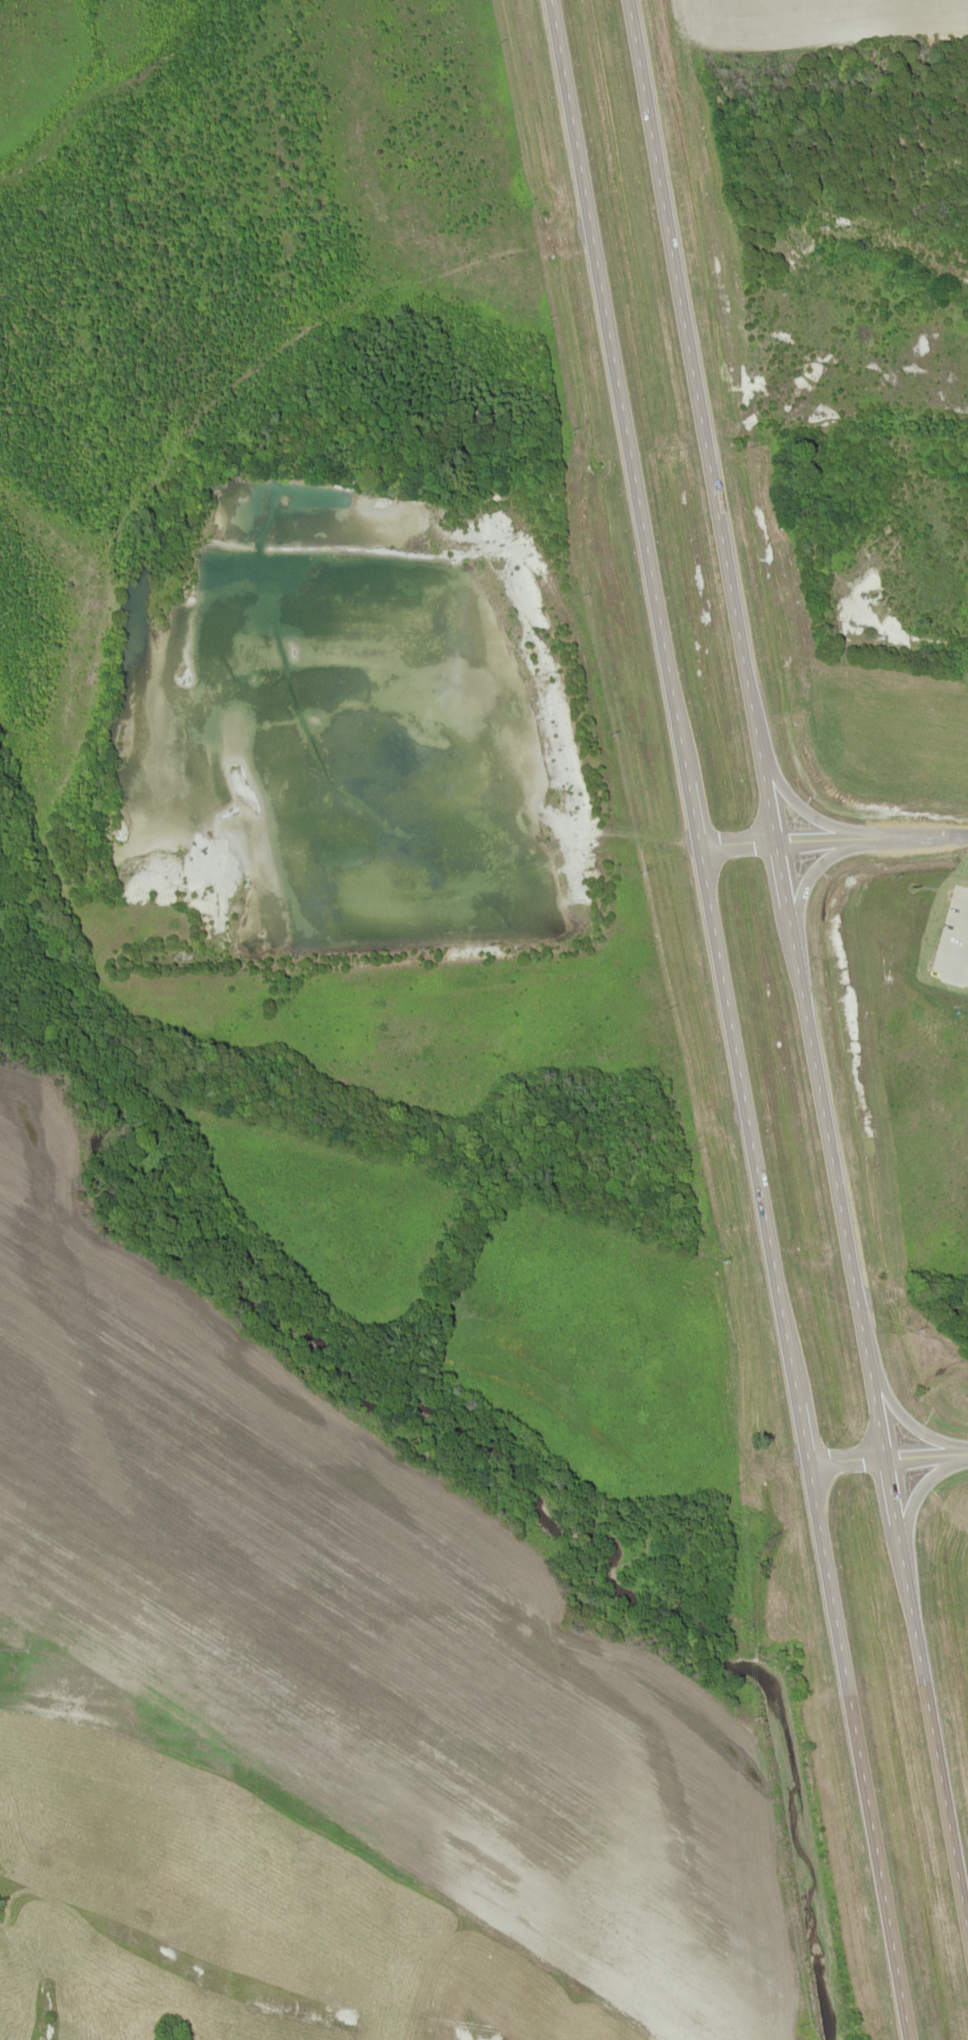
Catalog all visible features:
road: (617, 390)
road: (701, 420)
road: (803, 811)
road: (692, 812)
road: (832, 838)
road: (813, 872)
road: (782, 873)
road: (746, 1114)
road: (836, 1181)
road: (800, 1422)
road: (909, 1424)
road: (887, 1457)
road: (920, 1489)
road: (890, 1490)
road: (931, 1728)
road: (857, 1749)

